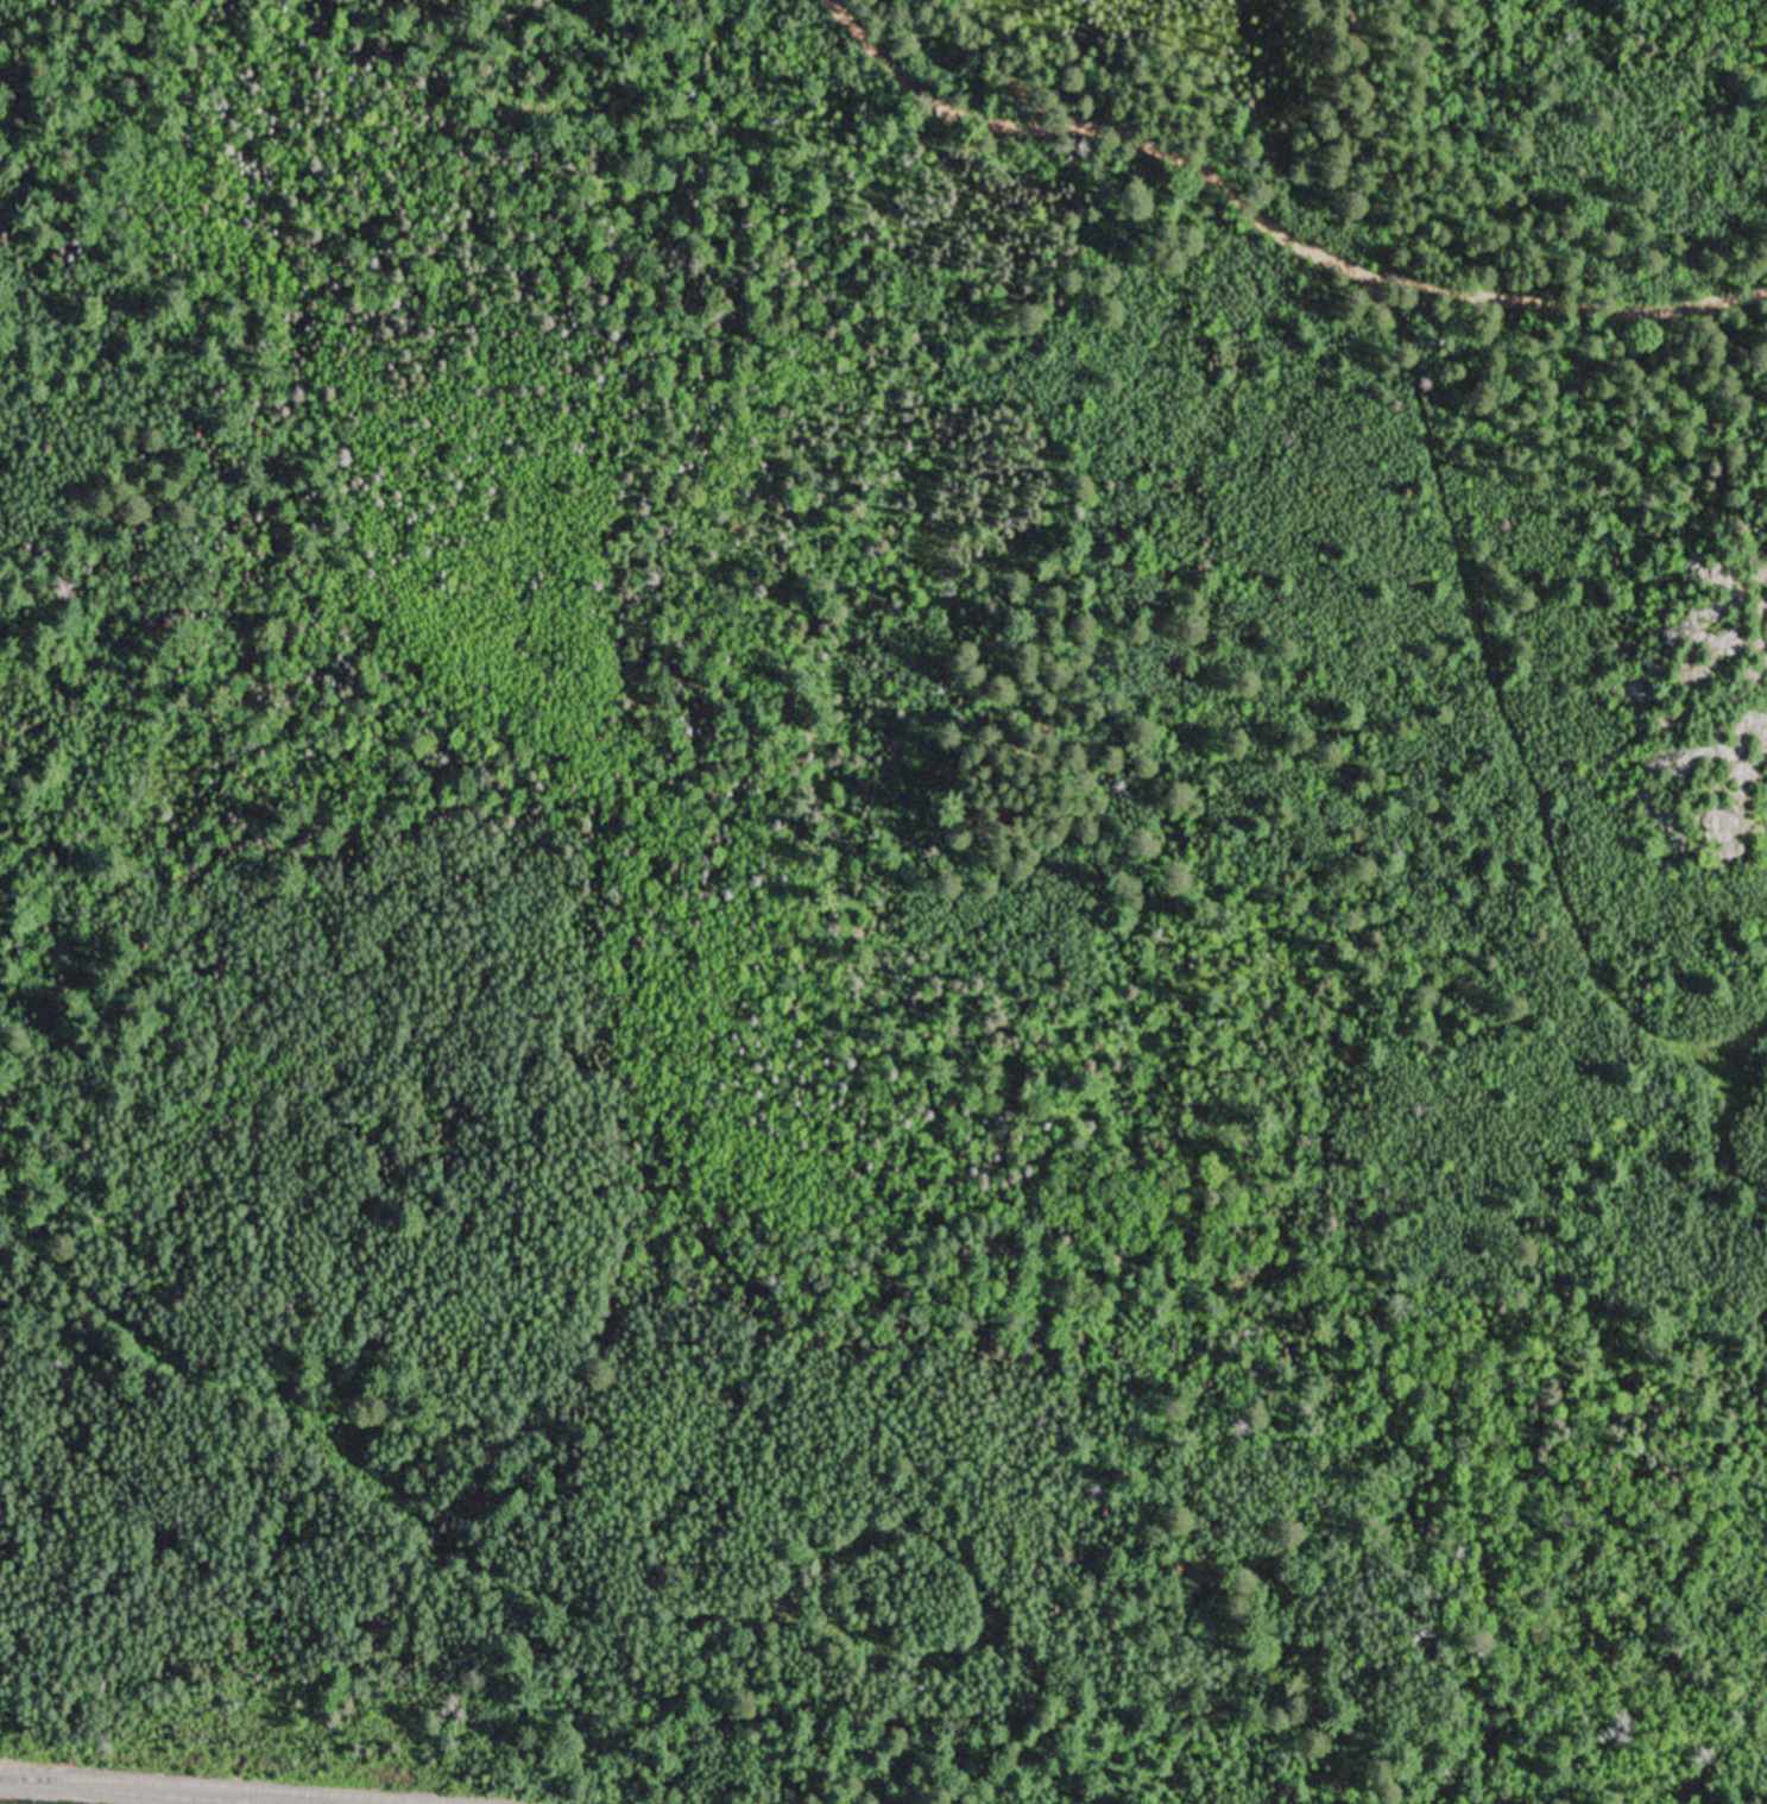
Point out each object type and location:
road: (1270, 223)
road: (1506, 707)
railway: (204, 1787)
railway: (118, 1794)

